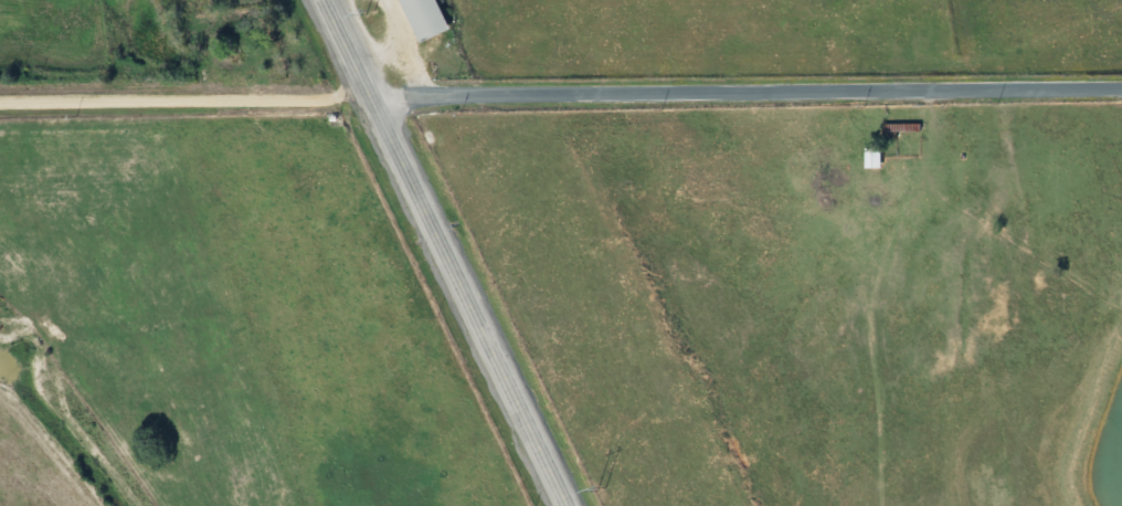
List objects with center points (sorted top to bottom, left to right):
power tower: (370, 10)
building: (413, 19)
road: (745, 89)
road: (184, 98)
building: (867, 158)
road: (445, 252)
power tower: (600, 488)

